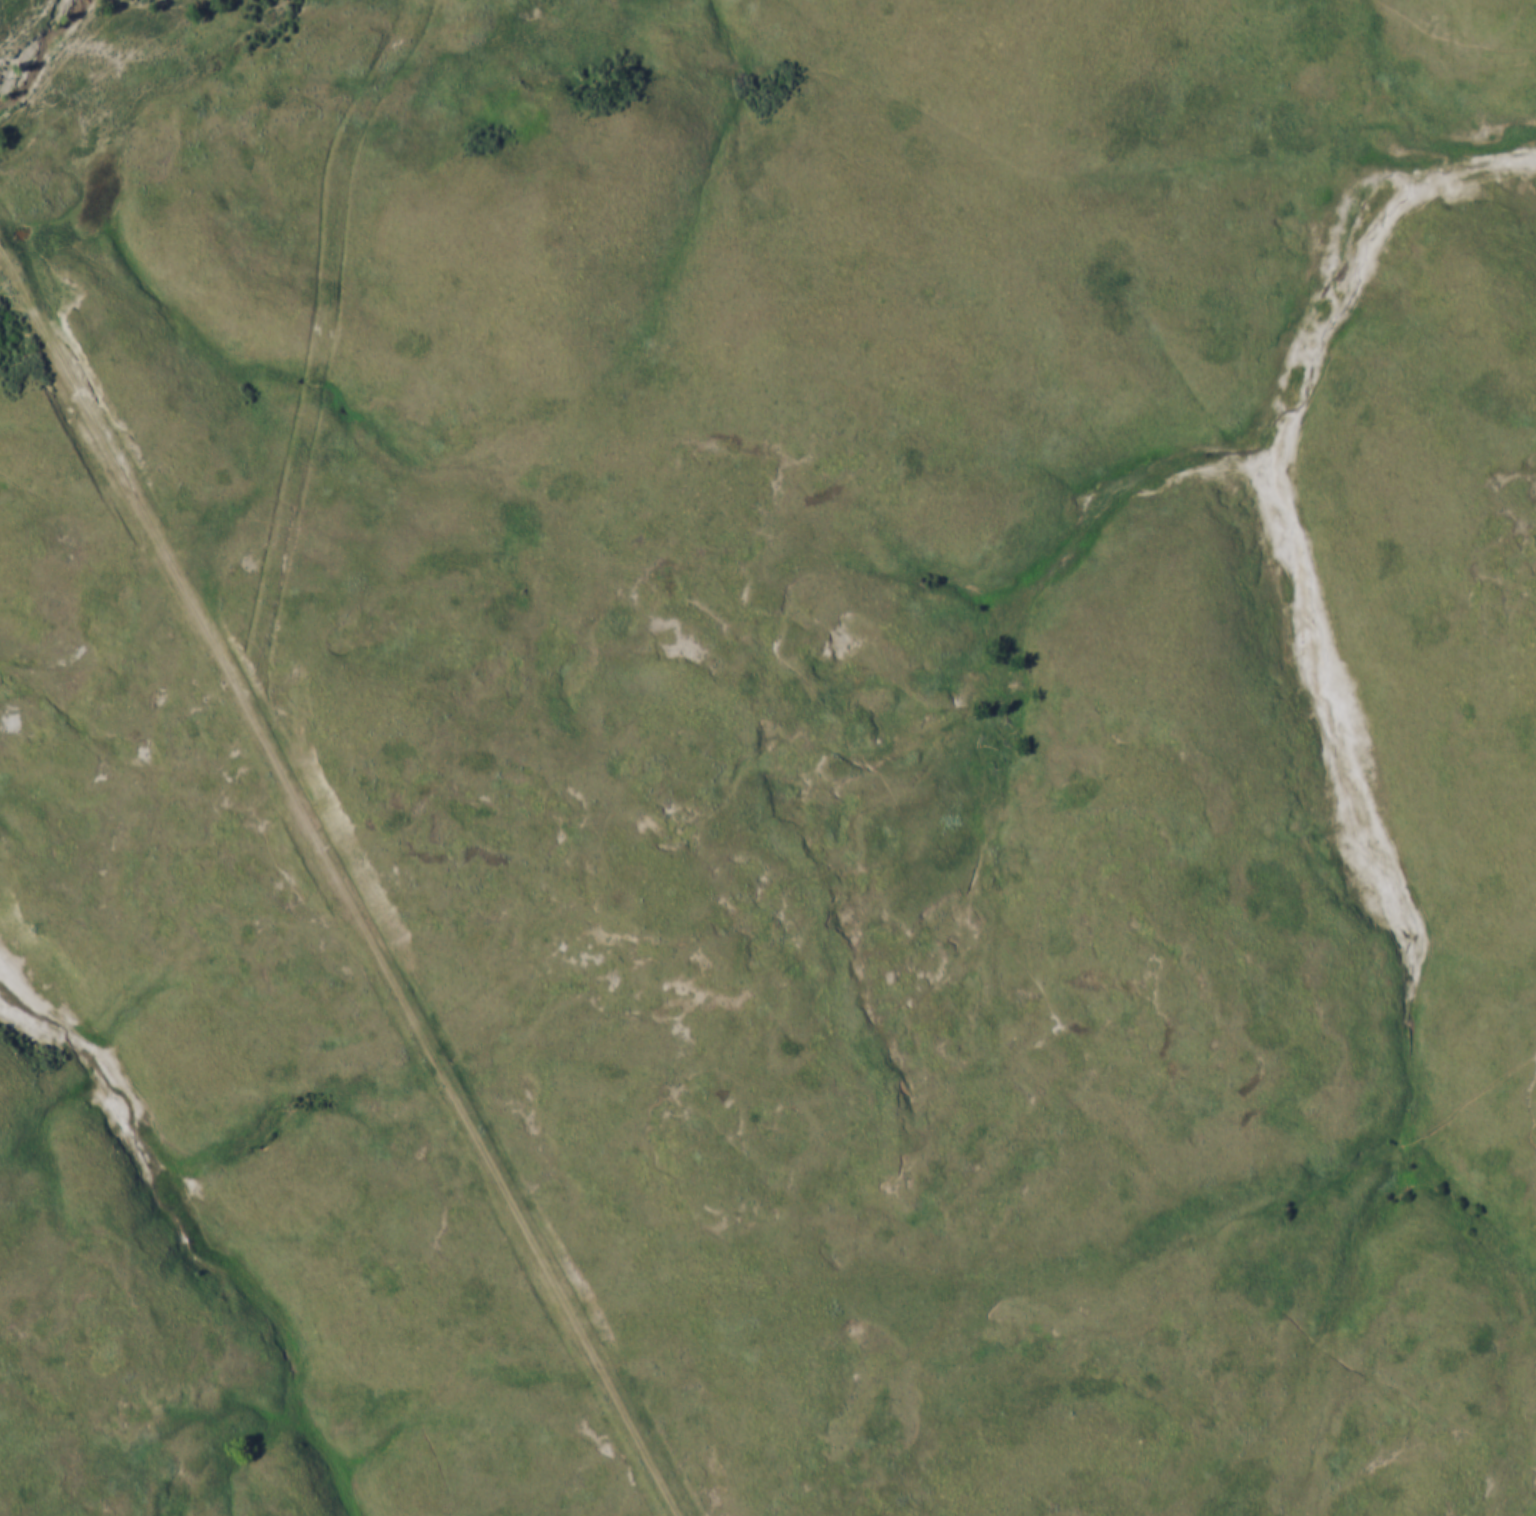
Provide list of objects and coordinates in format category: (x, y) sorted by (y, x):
road: (325, 343)
road: (345, 872)

